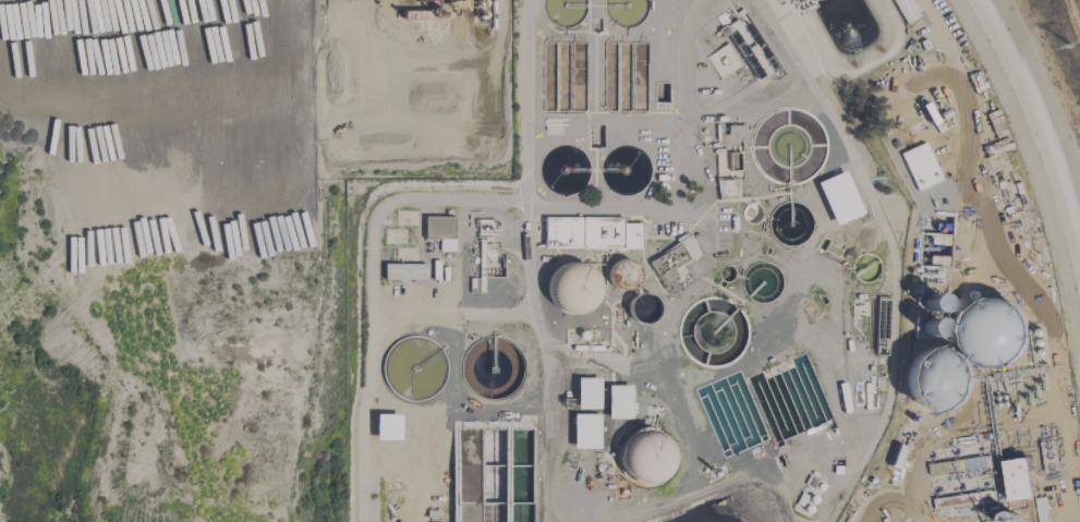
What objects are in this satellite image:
building: (724, 61)
road: (748, 100)
building: (920, 124)
road: (685, 174)
building: (725, 189)
road: (994, 207)
building: (439, 232)
building: (688, 248)
road: (891, 250)
road: (529, 262)
building: (666, 270)
building: (571, 288)
wastewater plant: (711, 289)
building: (586, 393)
building: (618, 402)
building: (585, 432)
road: (950, 433)
building: (1019, 445)
building: (643, 457)
road: (1072, 471)
building: (1011, 477)

